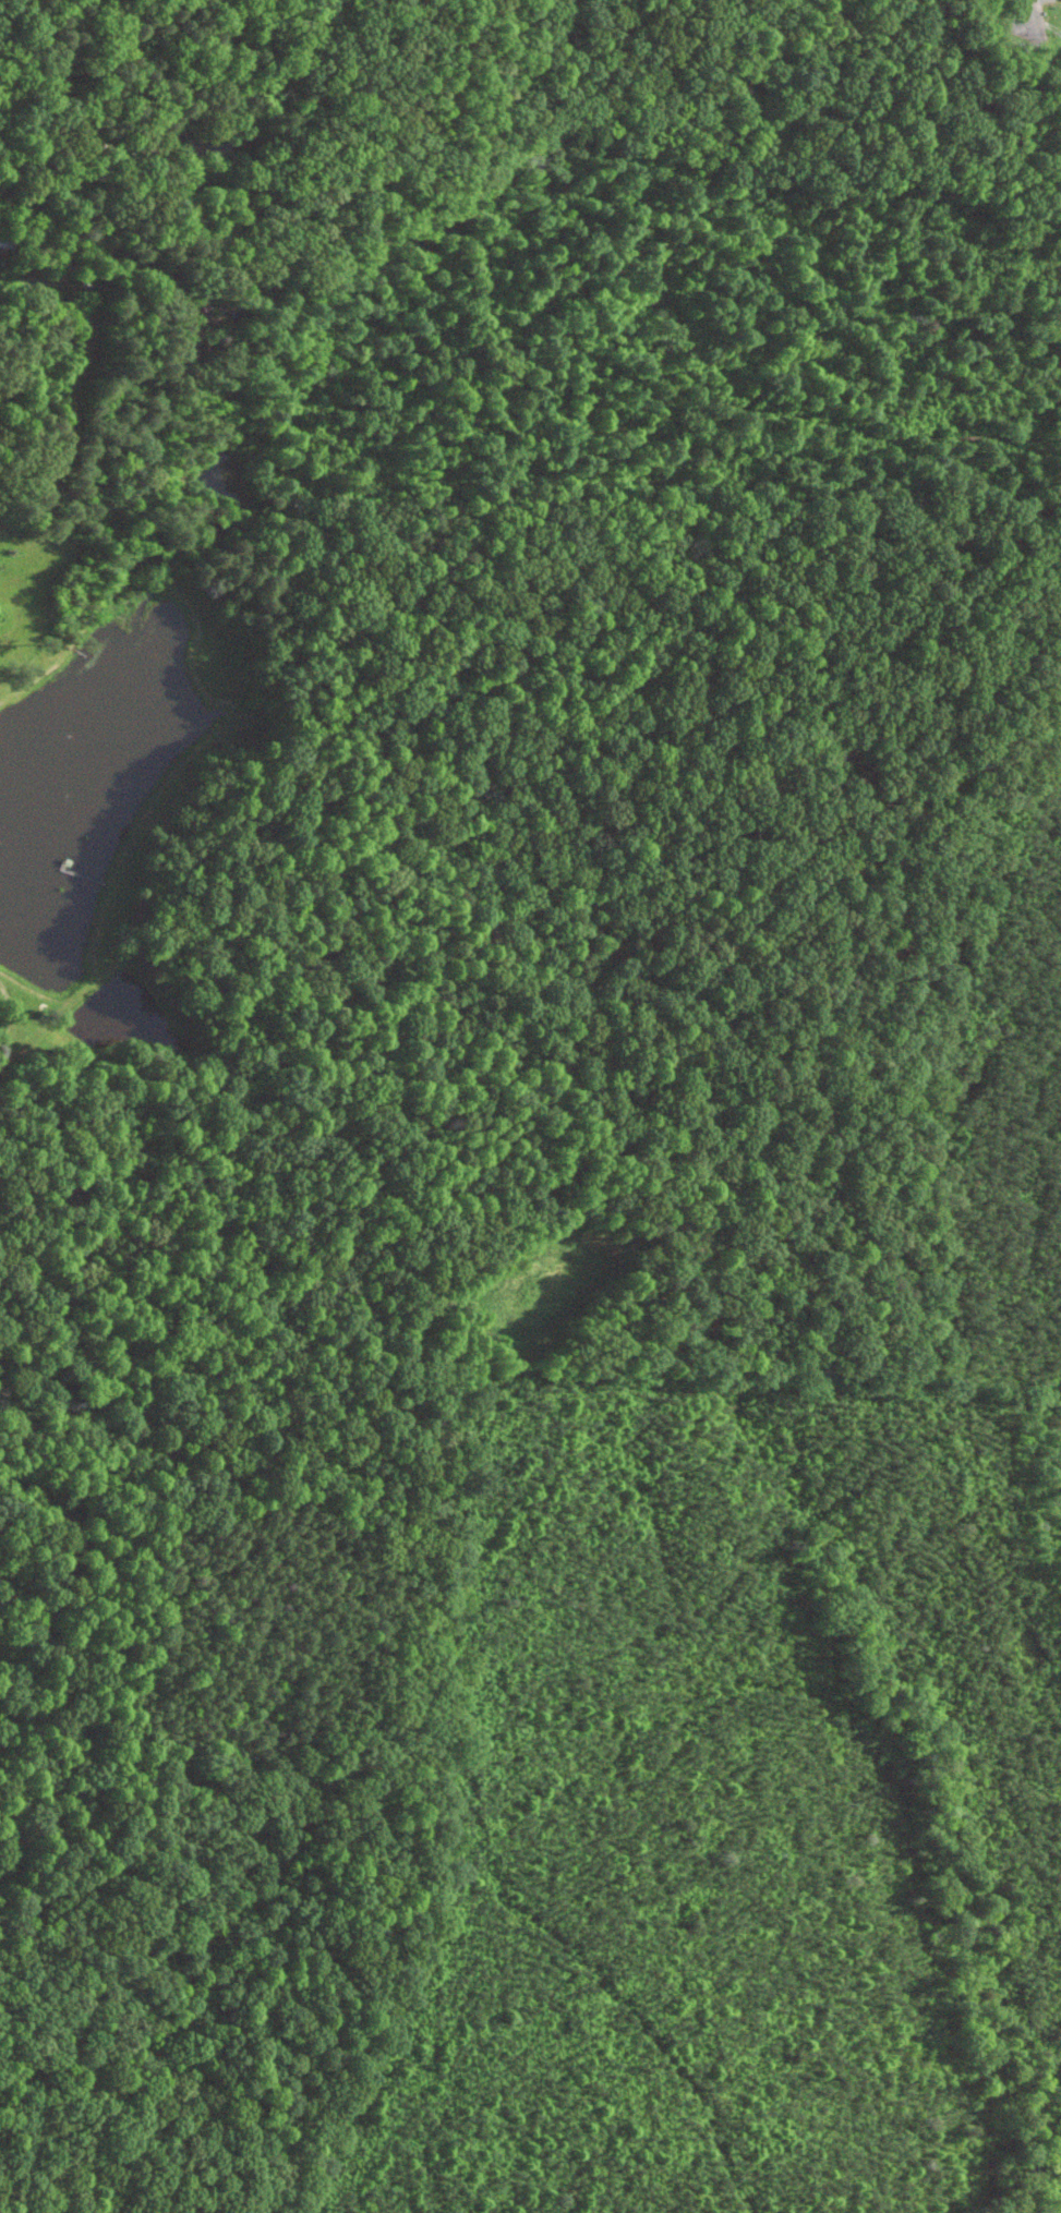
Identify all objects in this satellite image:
road: (1032, 11)

